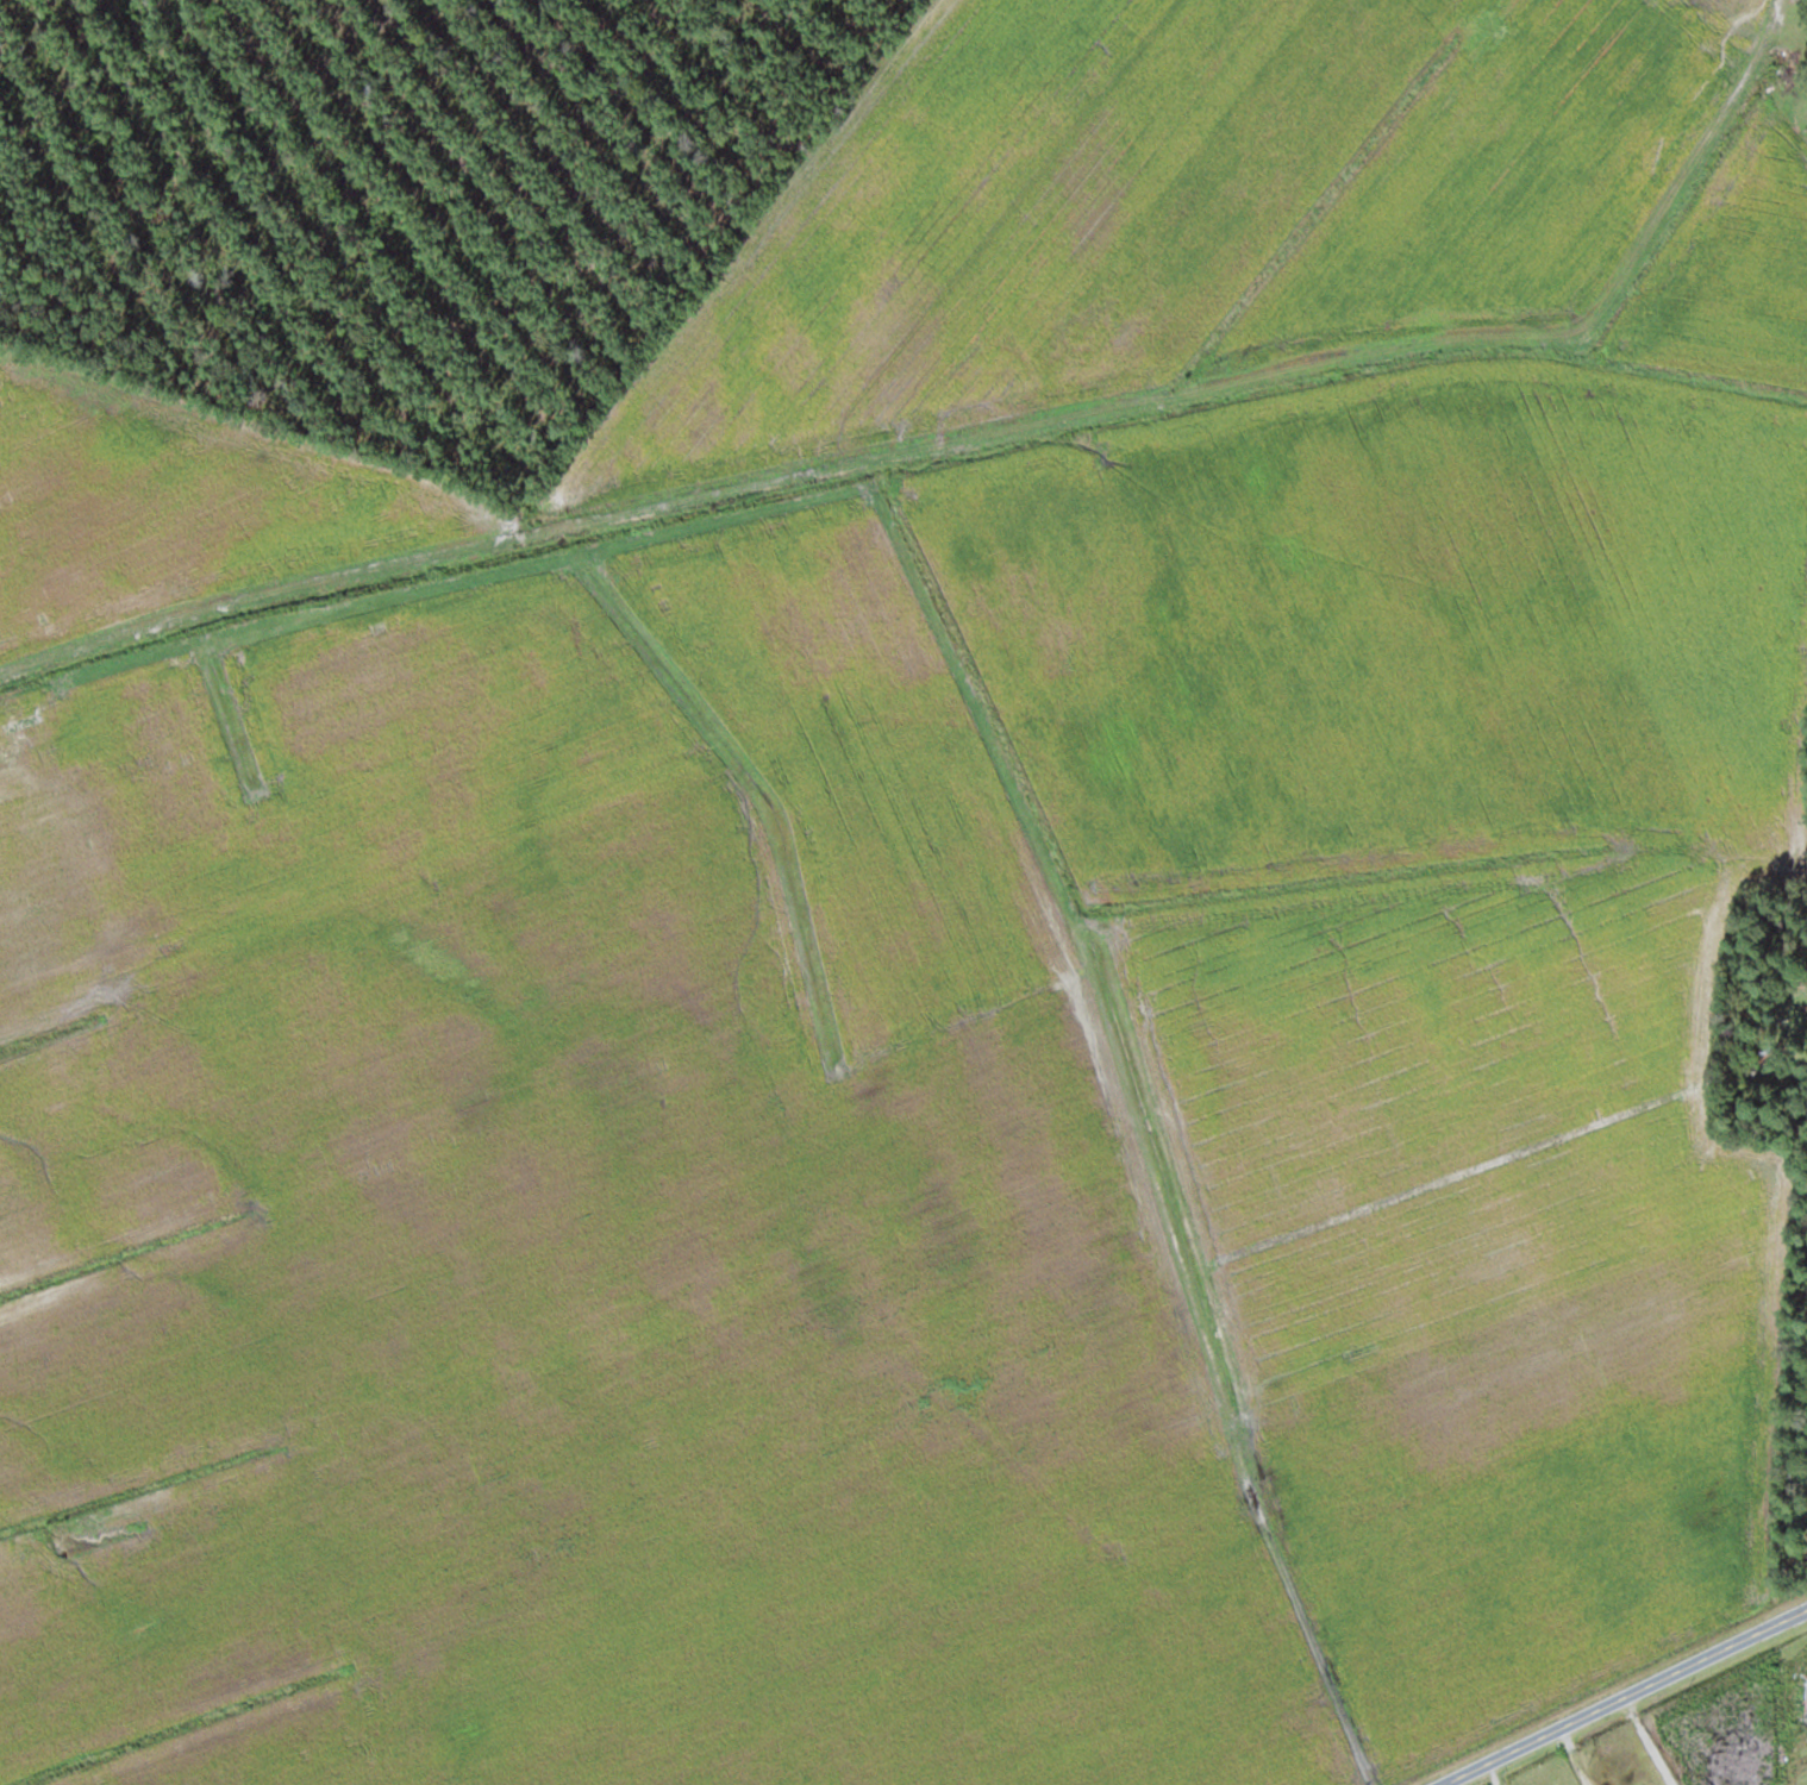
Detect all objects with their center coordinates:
road: (1625, 1697)
building: (1806, 1698)

